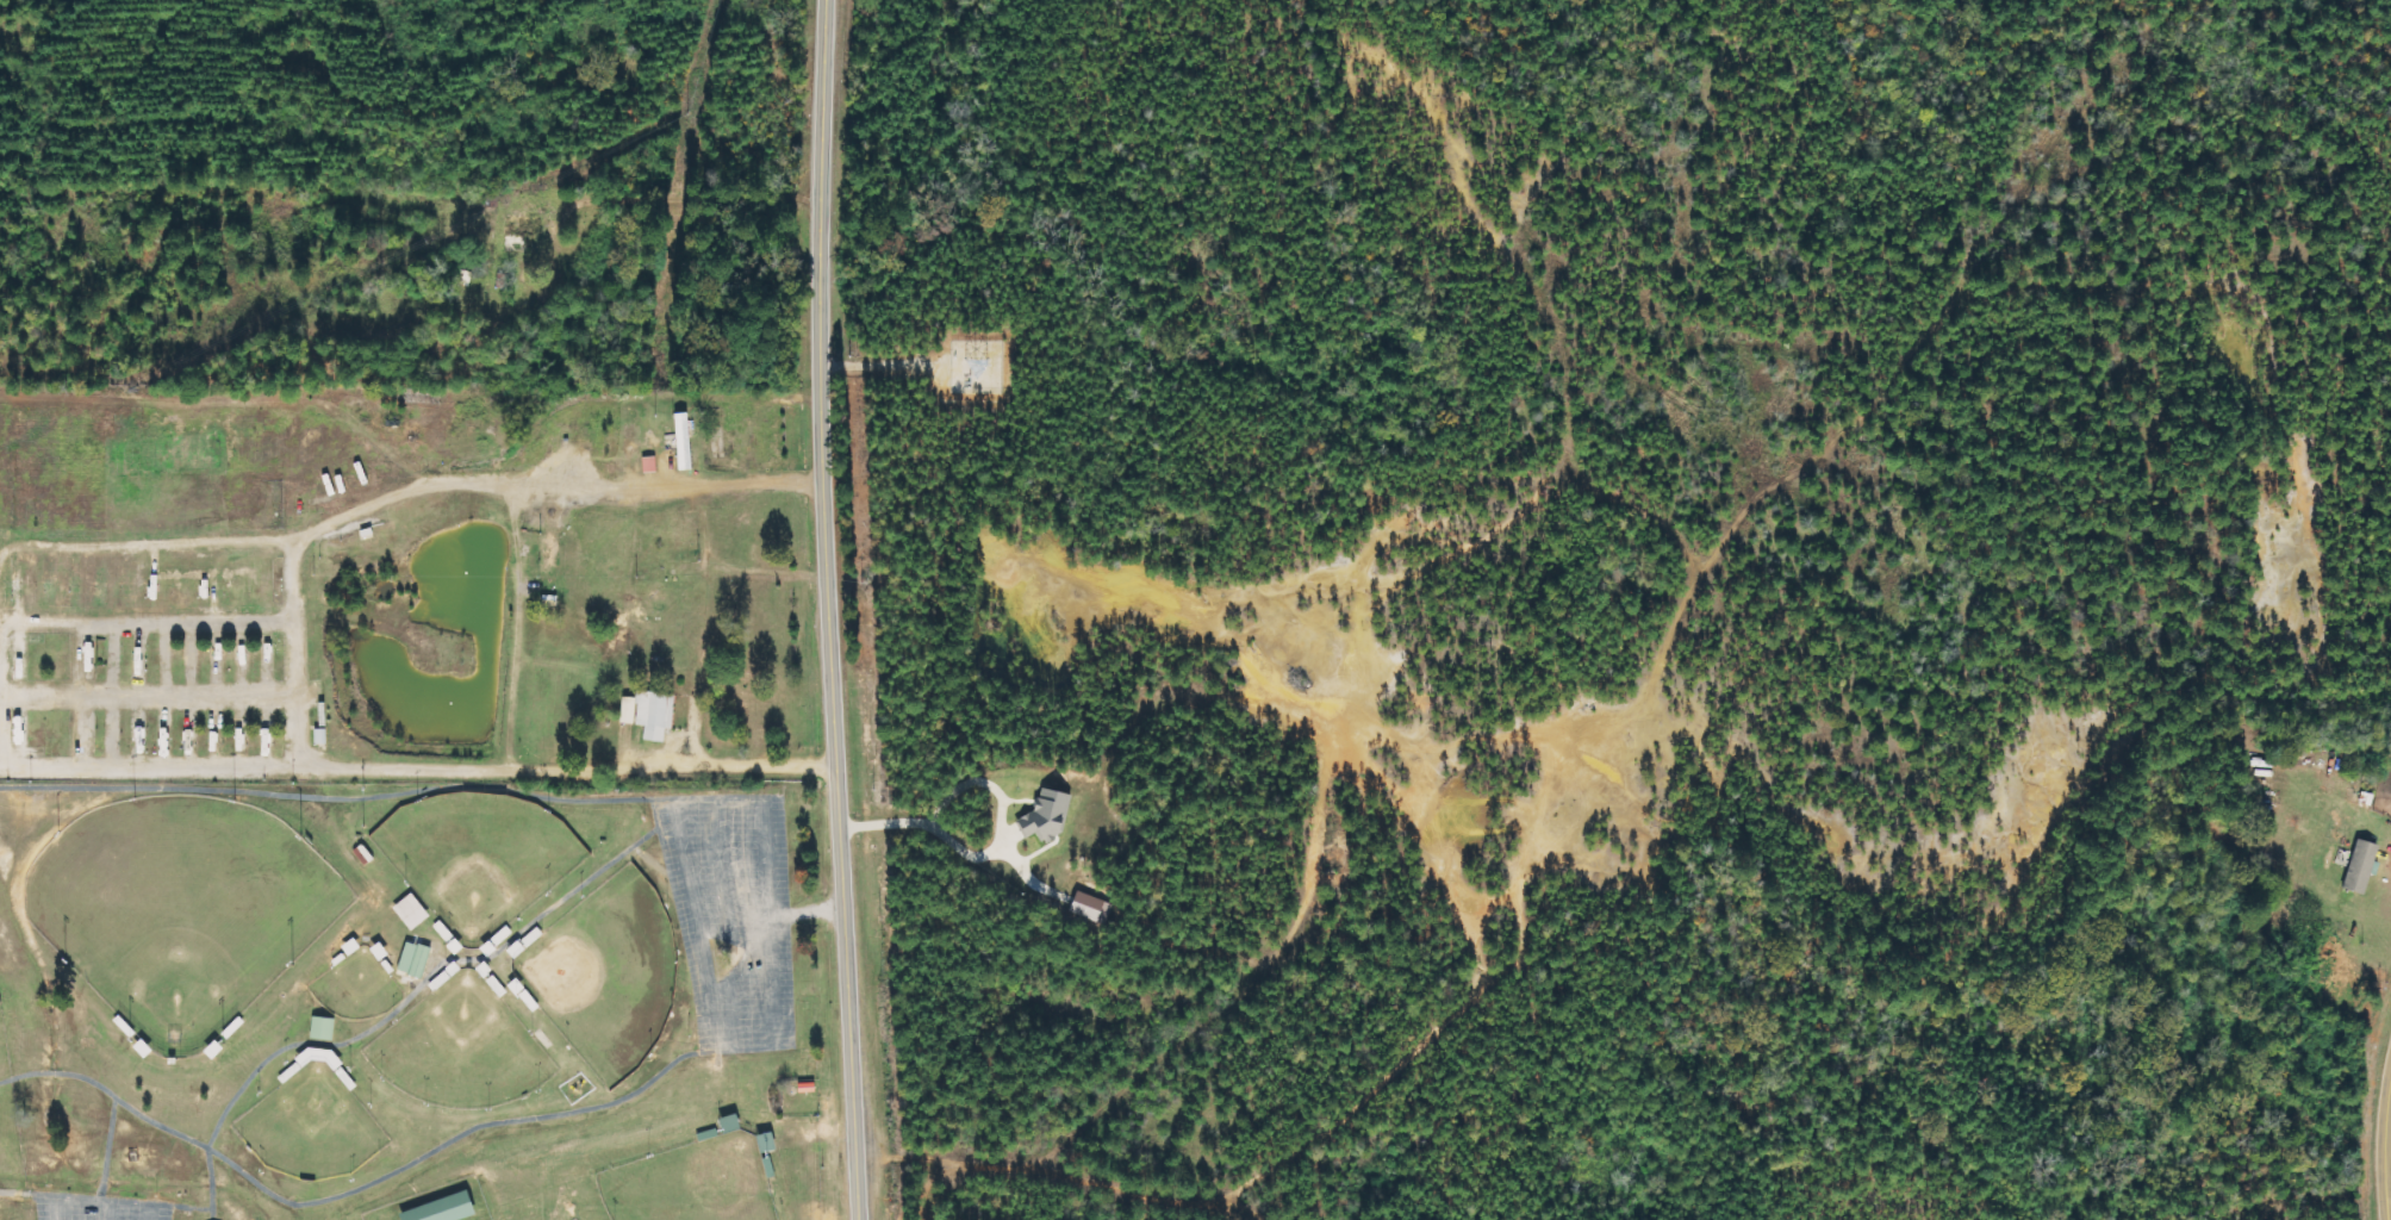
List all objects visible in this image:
building: (685, 441)
building: (650, 465)
road: (828, 610)
building: (652, 712)
road: (418, 766)
road: (336, 797)
building: (1050, 816)
park: (477, 857)
building: (2362, 866)
road: (722, 876)
road: (766, 903)
building: (1092, 908)
park: (178, 909)
building: (409, 910)
road: (804, 911)
parking lot: (729, 914)
road: (697, 923)
building: (416, 959)
park: (605, 972)
road: (426, 973)
park: (354, 985)
park: (419, 998)
building: (320, 1027)
park: (459, 1047)
park: (310, 1126)
road: (2381, 1140)
road: (106, 1149)
park: (691, 1182)
road: (355, 1188)
road: (29, 1191)
road: (100, 1202)
parking lot: (94, 1207)
road: (211, 1208)
building: (442, 1208)
road: (105, 1212)

